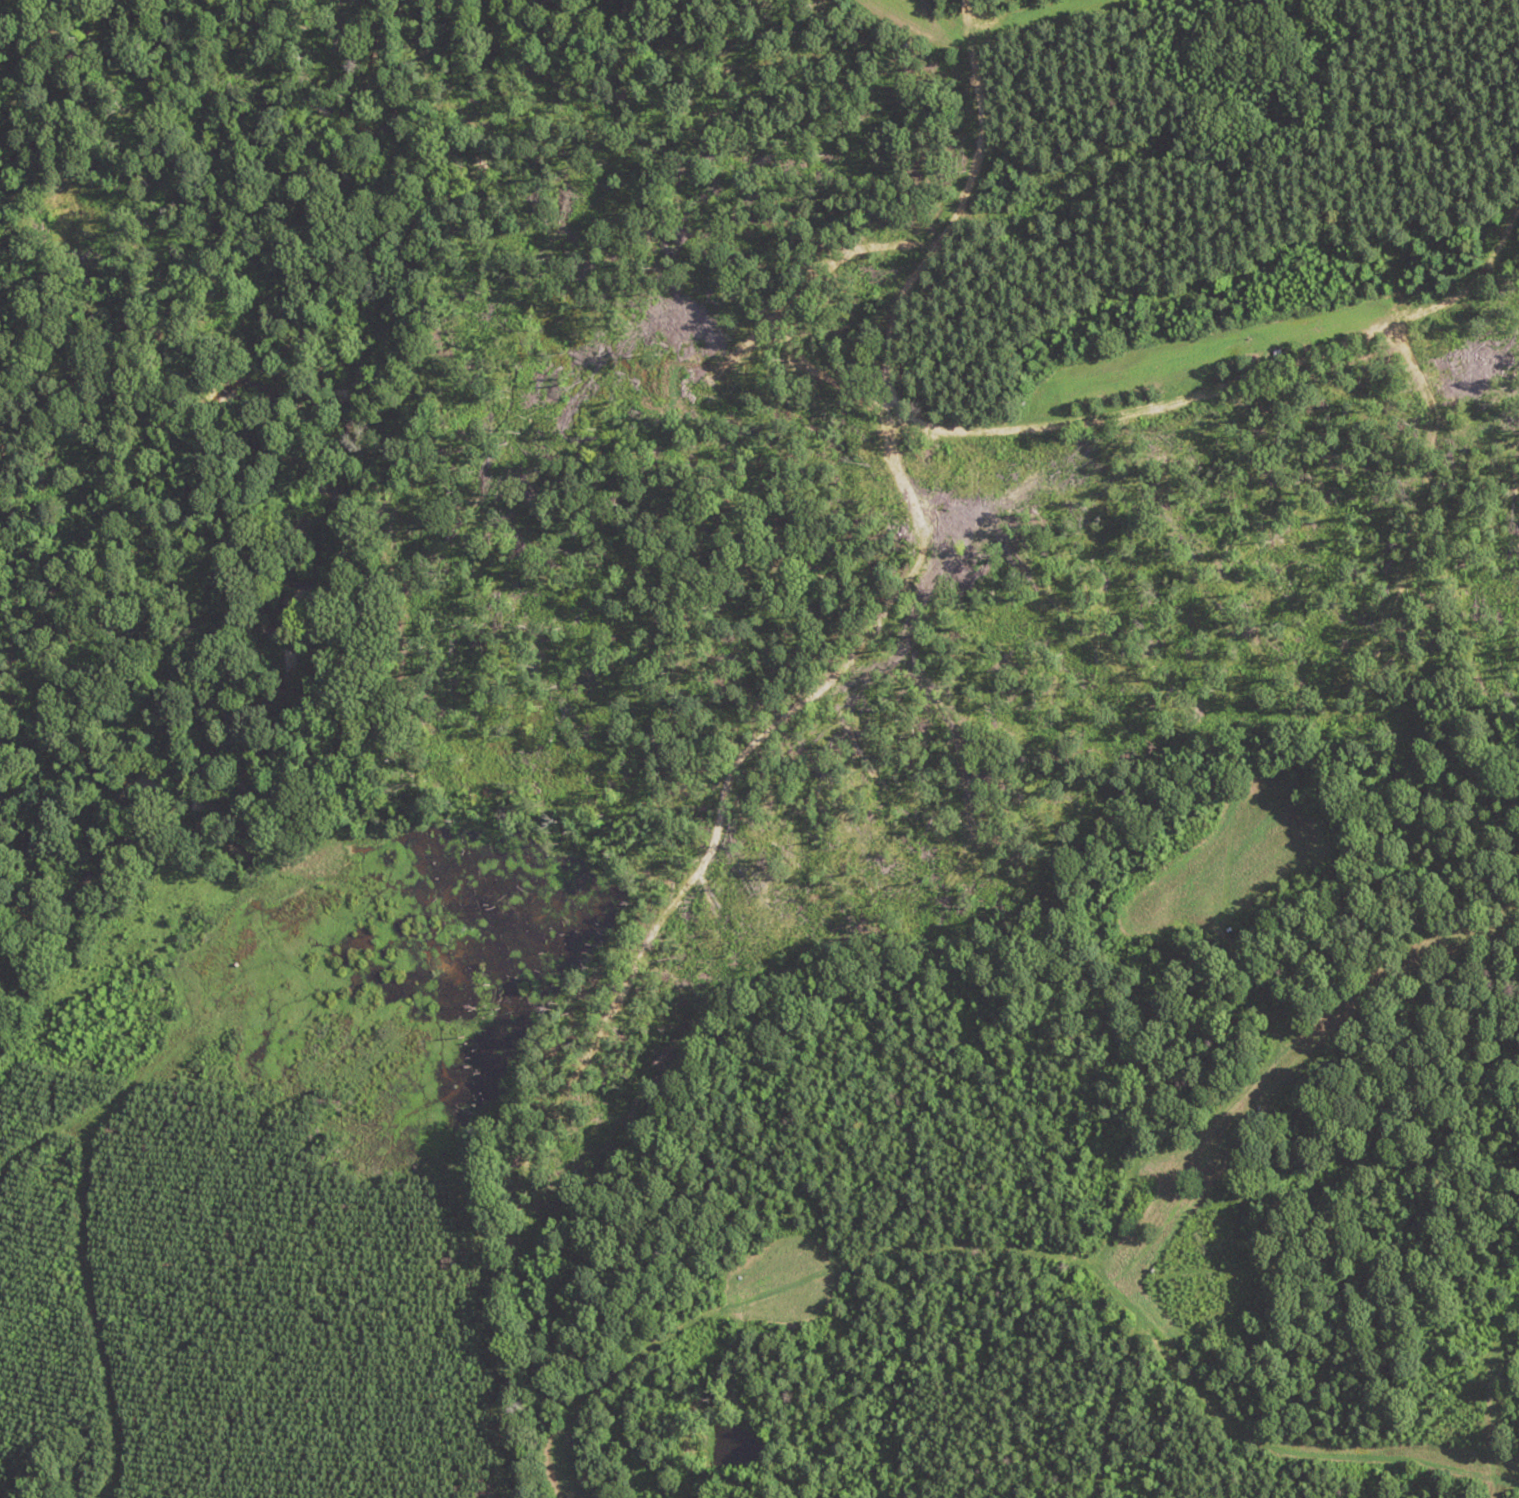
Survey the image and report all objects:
road: (1338, 228)
road: (712, 670)
road: (975, 1213)

